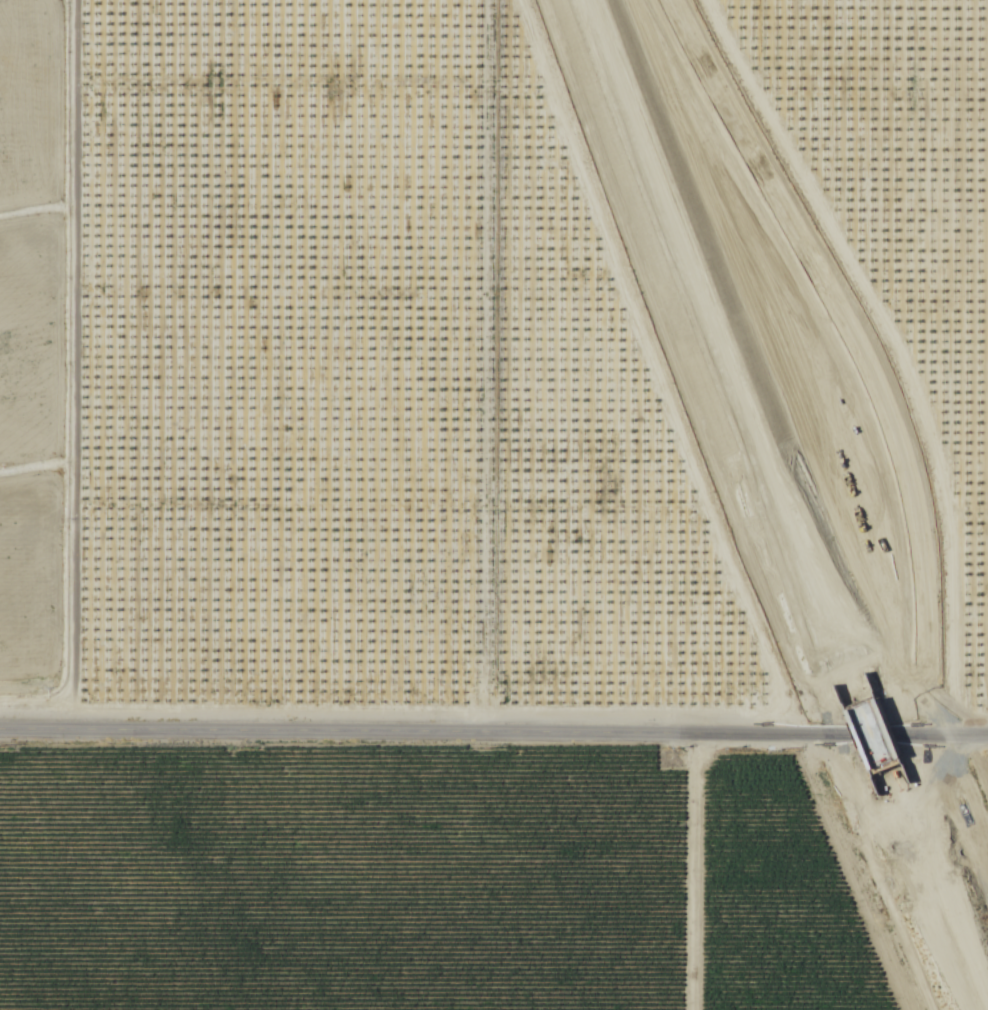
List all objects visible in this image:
crop: (29, 107)
crop: (30, 343)
railway: (722, 353)
railway: (713, 355)
road: (67, 365)
crop: (29, 585)
road: (494, 733)
railway: (876, 736)
railway: (868, 740)
road: (687, 872)
crop: (336, 881)
railway: (939, 886)
railway: (932, 891)
crop: (768, 900)

